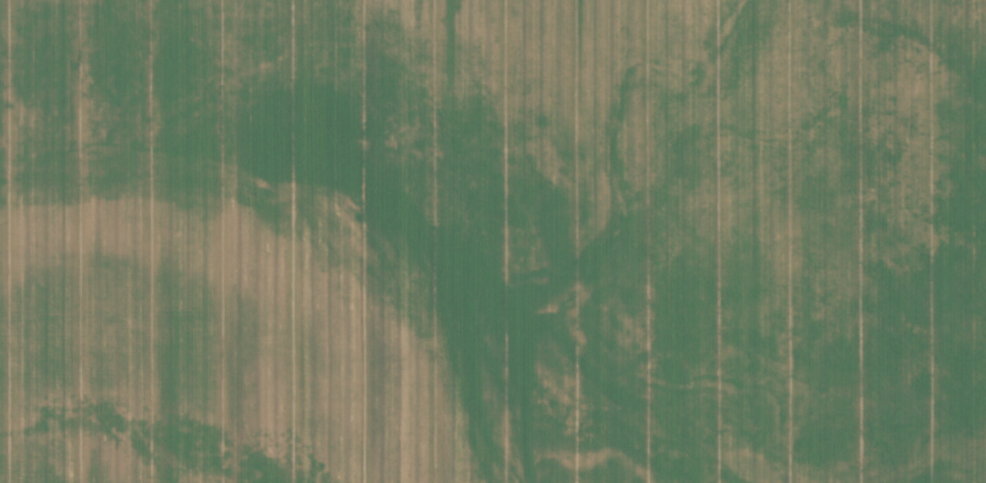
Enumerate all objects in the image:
crop: (621, 241)
crop: (128, 242)

